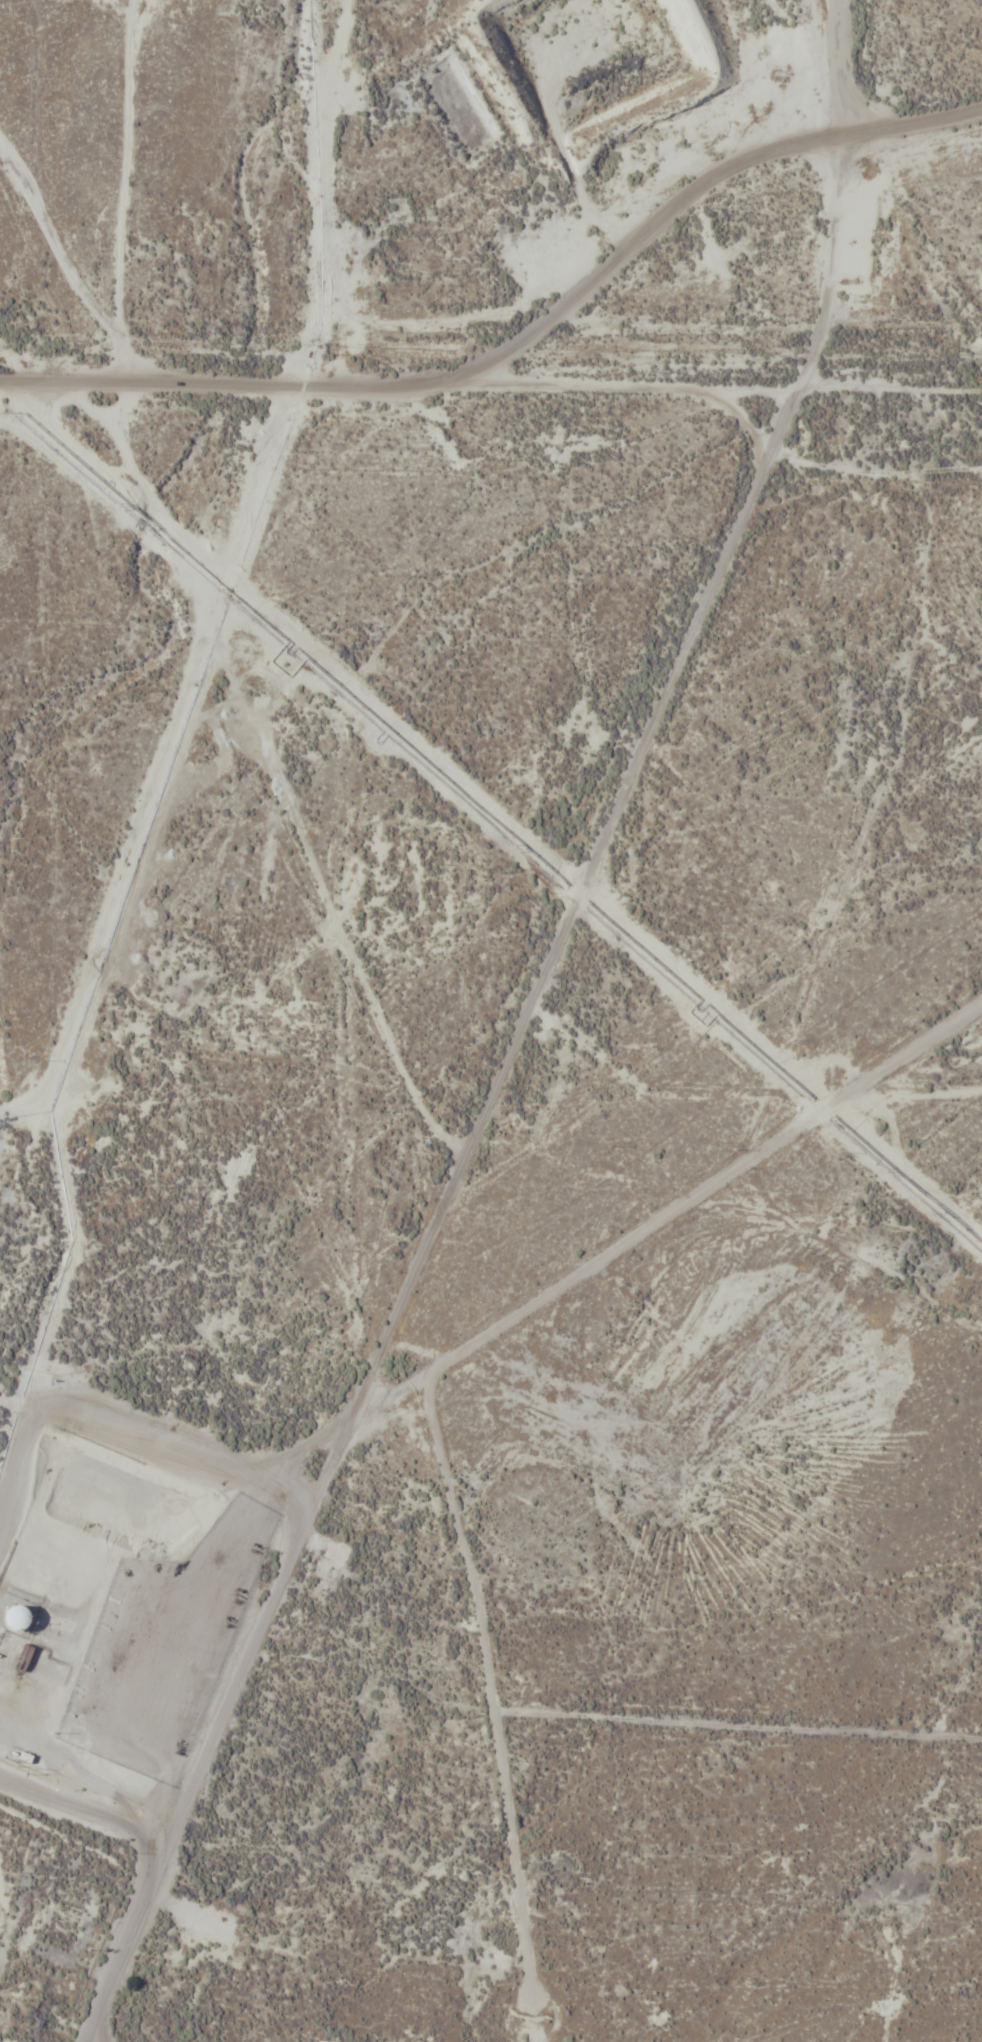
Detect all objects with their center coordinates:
road: (97, 1)
road: (837, 194)
road: (72, 380)
road: (464, 380)
road: (630, 385)
road: (882, 586)
road: (612, 815)
road: (388, 1402)
building: (73, 1492)
building: (99, 1502)
building: (58, 1576)
building: (92, 1590)
building: (18, 1616)
road: (614, 1718)

